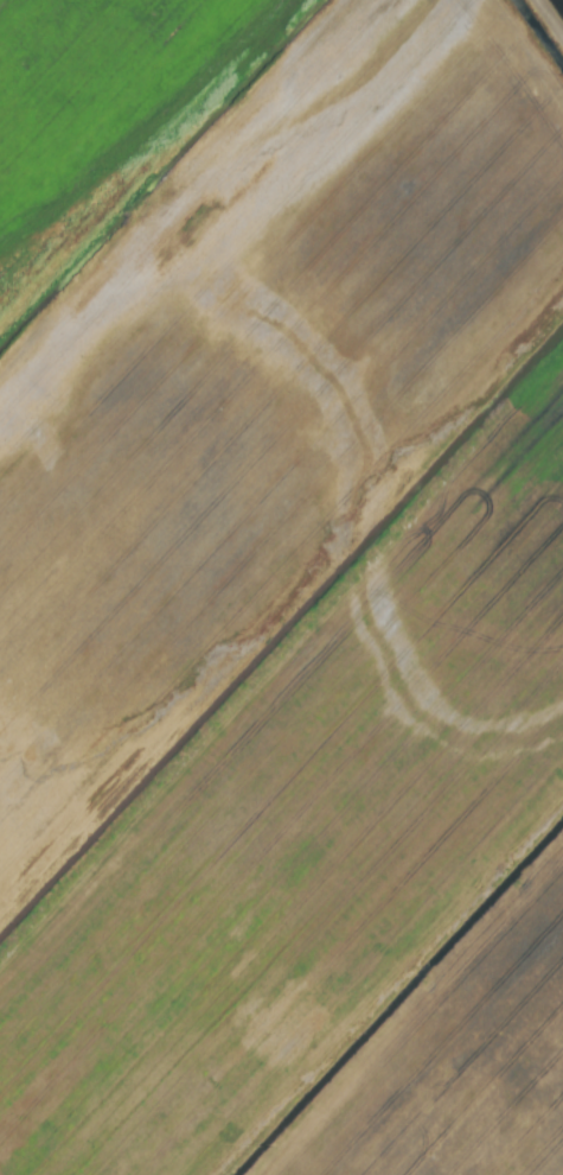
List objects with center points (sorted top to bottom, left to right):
crop: (281, 587)

